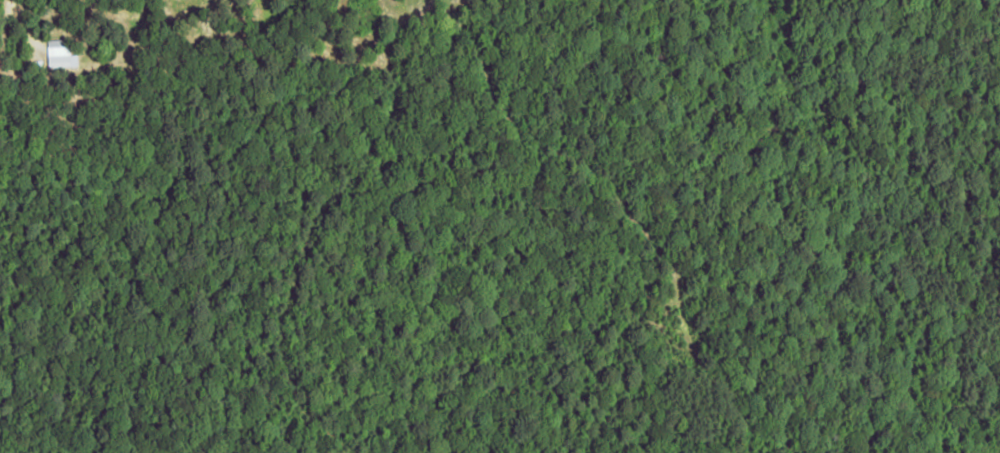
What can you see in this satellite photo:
building: (60, 54)

